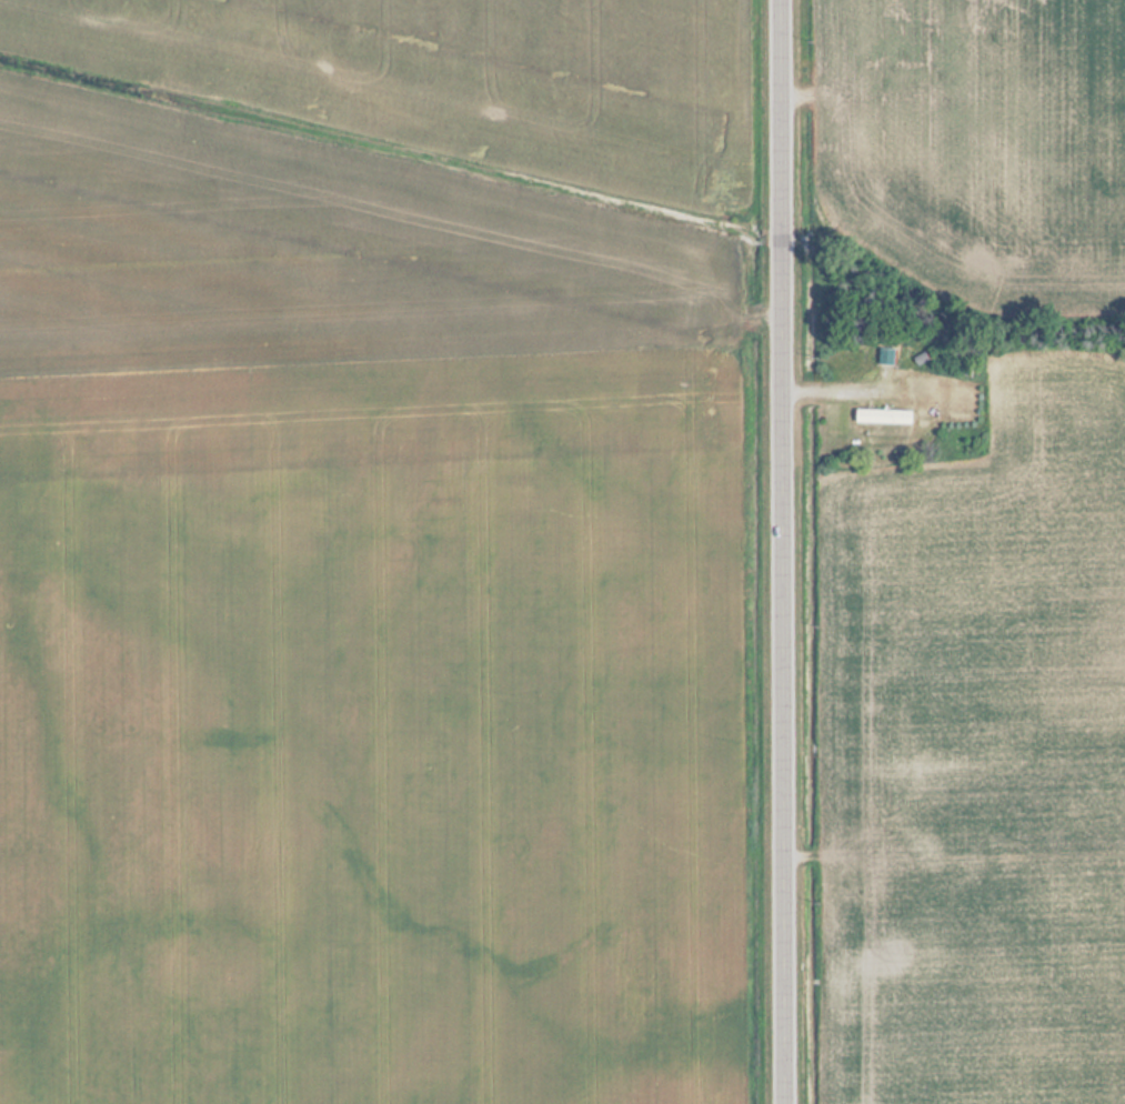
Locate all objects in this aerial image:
building: (882, 416)
road: (783, 551)

